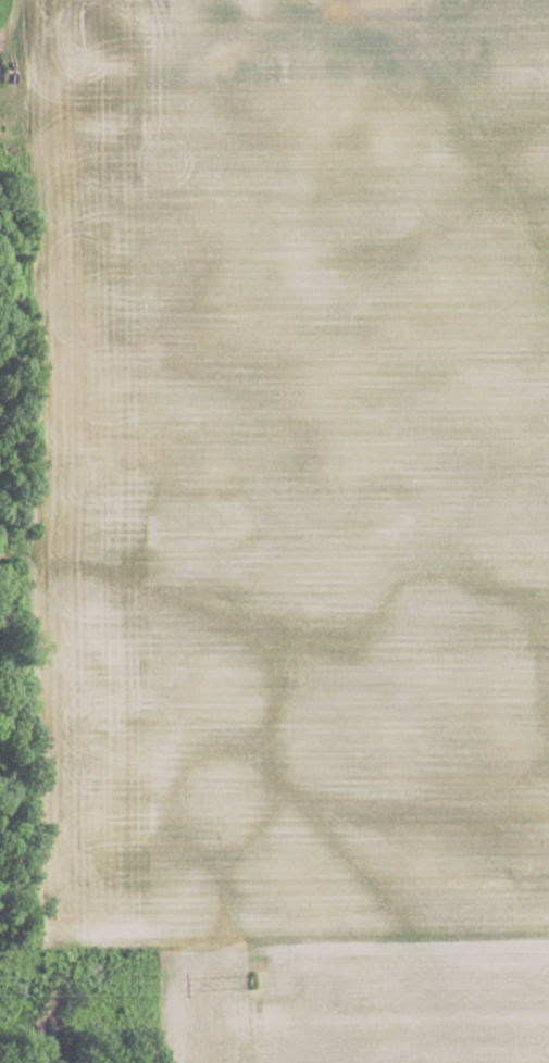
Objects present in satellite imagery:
power tower: (259, 978)

